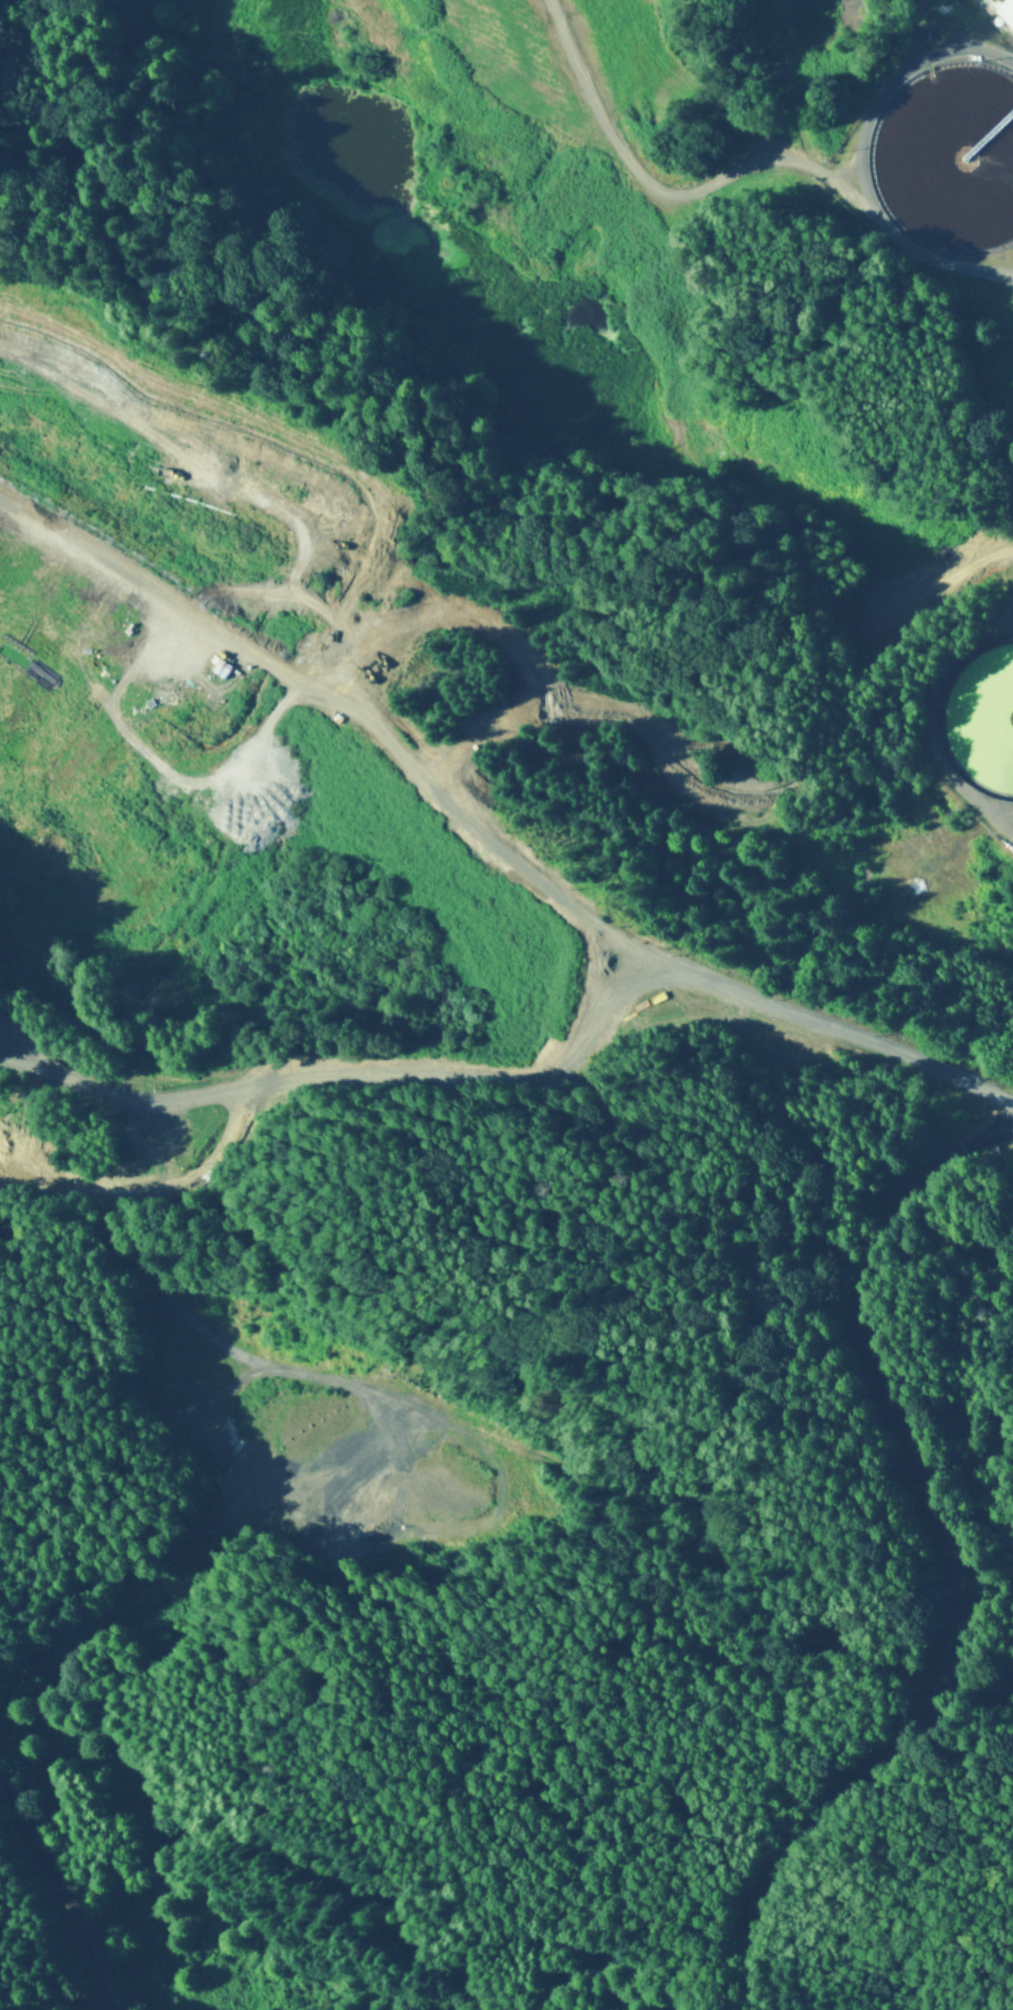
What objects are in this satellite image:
building: (1010, 13)

